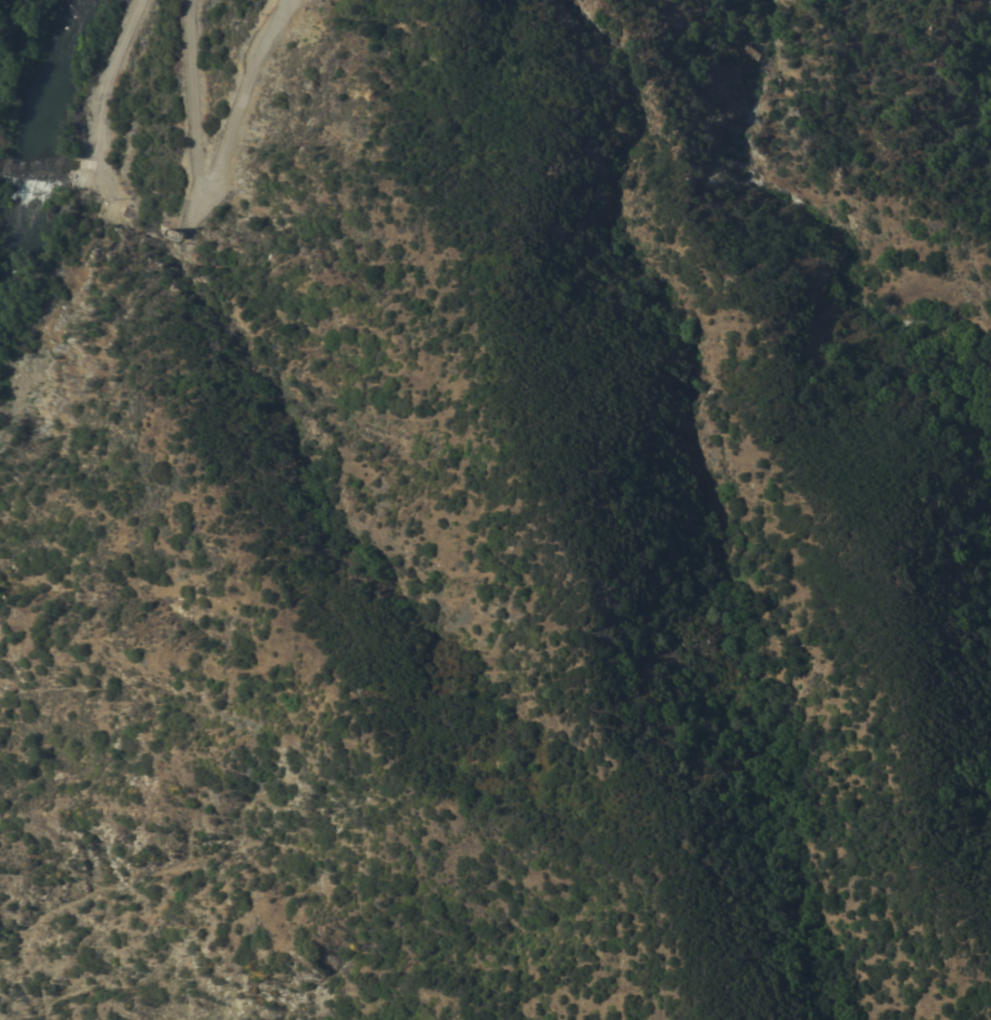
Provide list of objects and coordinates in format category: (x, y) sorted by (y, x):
building: (745, 51)
road: (99, 124)
river: (35, 140)
road: (209, 175)
road: (106, 179)
building: (178, 234)

